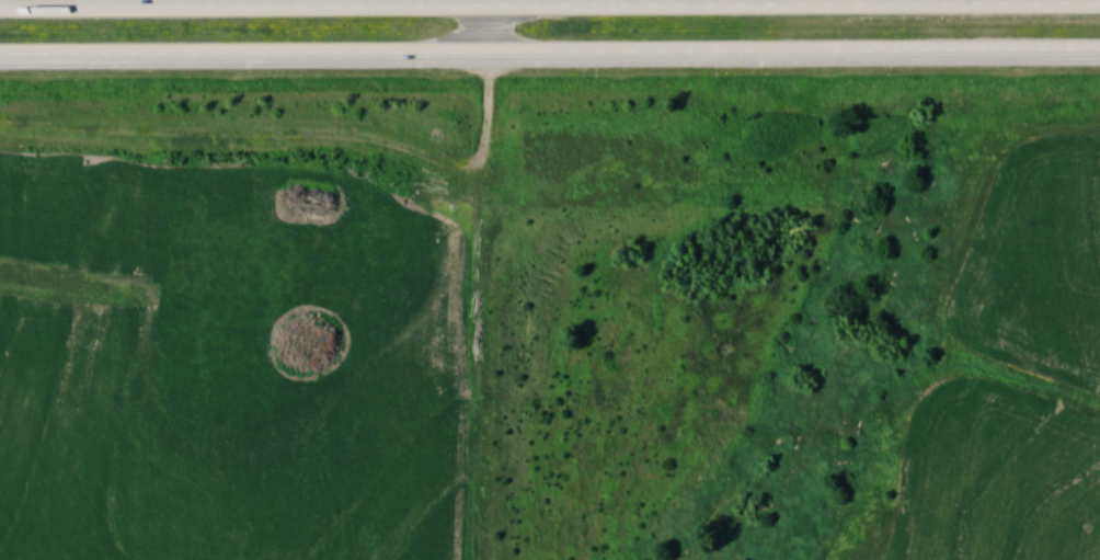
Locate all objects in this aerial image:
road: (550, 12)
road: (550, 59)

